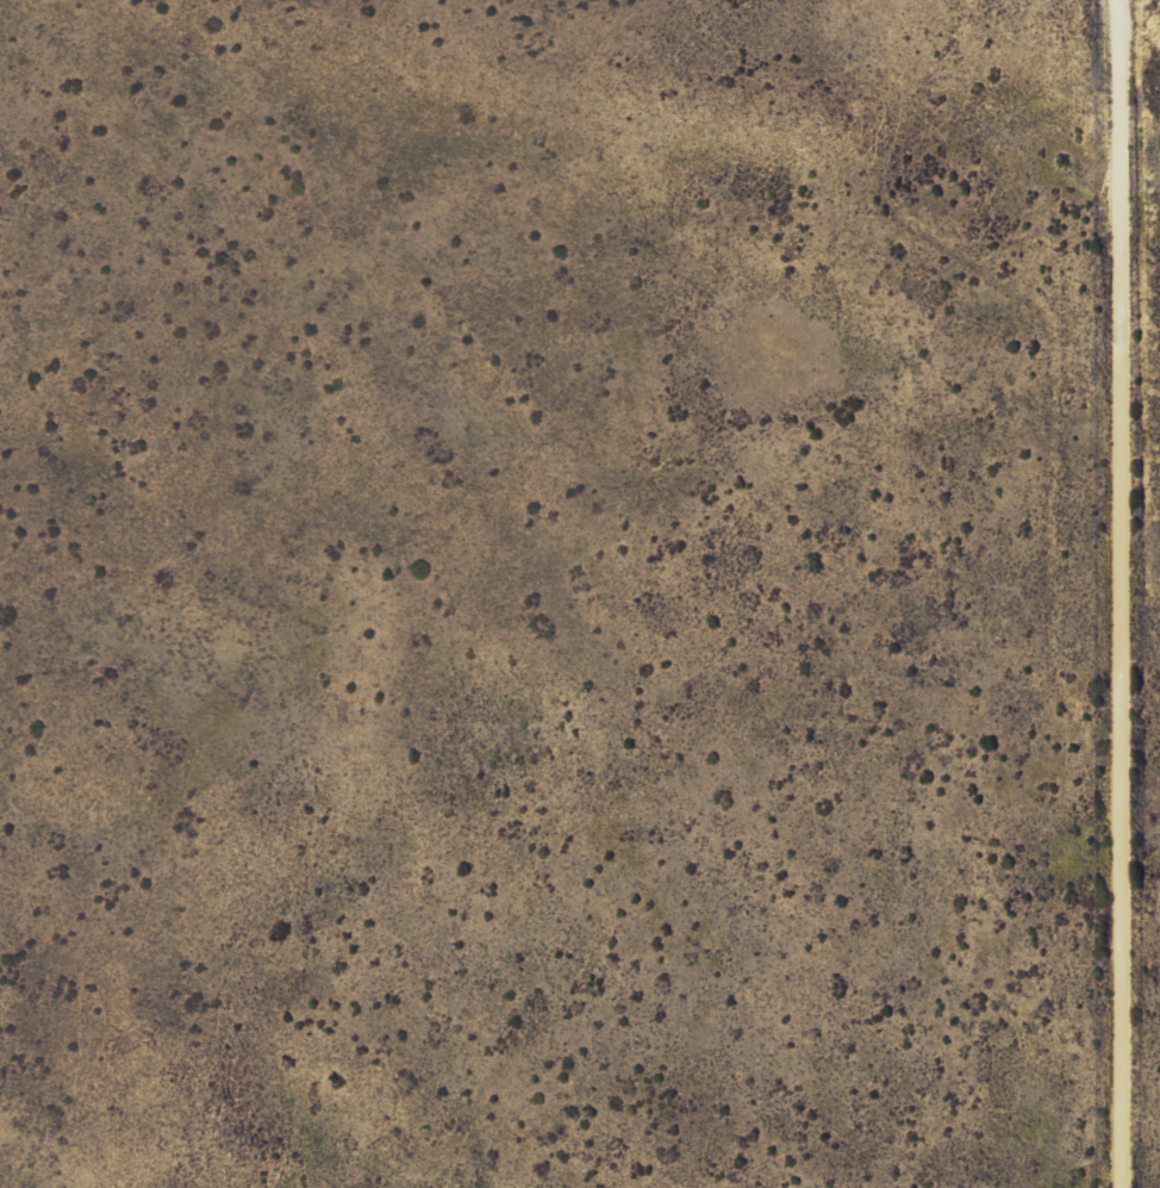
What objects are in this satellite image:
road: (1121, 593)

